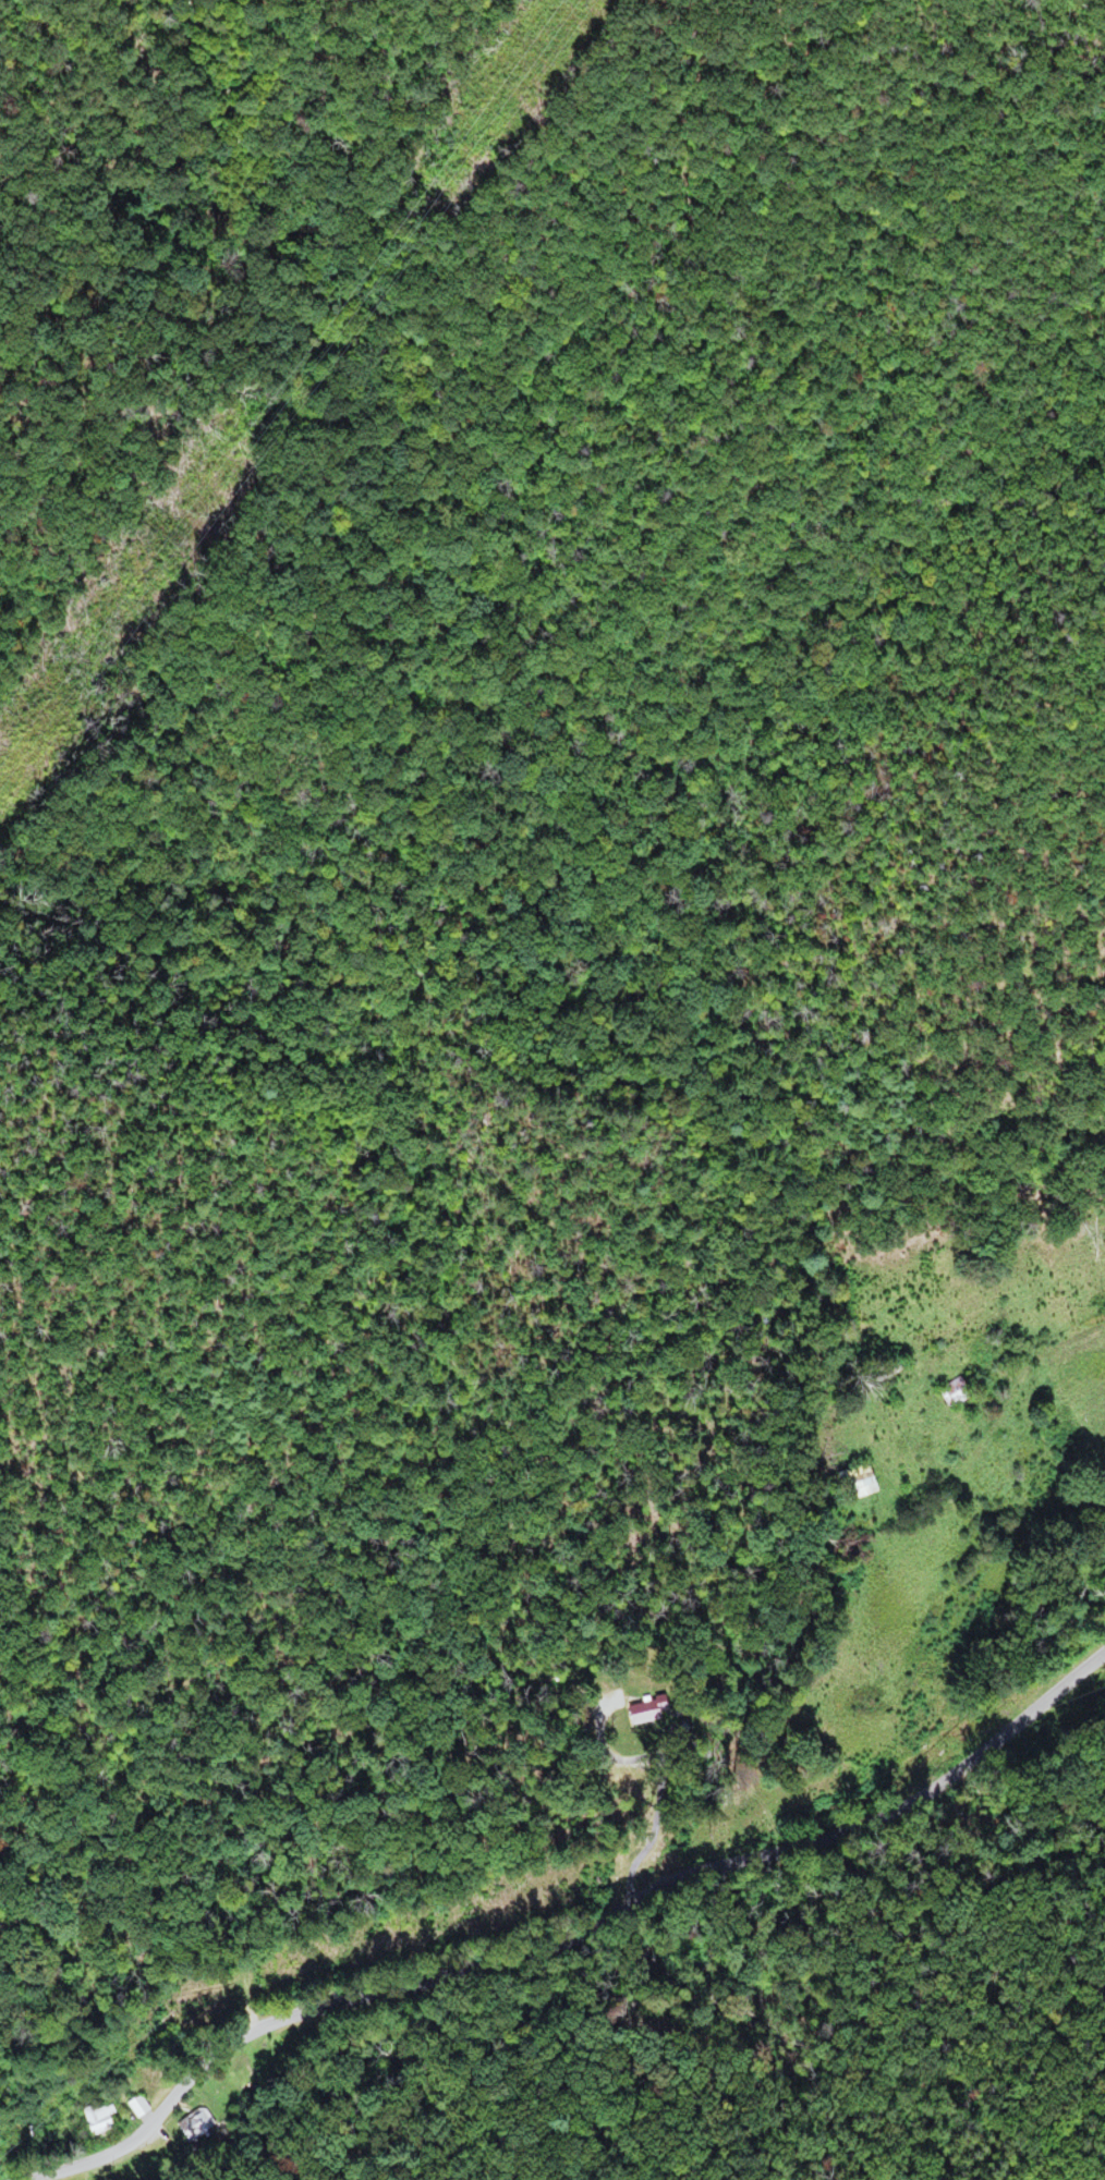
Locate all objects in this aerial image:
road: (1060, 1336)
building: (950, 1392)
building: (852, 1483)
building: (642, 1713)
road: (654, 1818)
road: (568, 1938)
building: (135, 2107)
building: (95, 2120)
building: (196, 2128)

